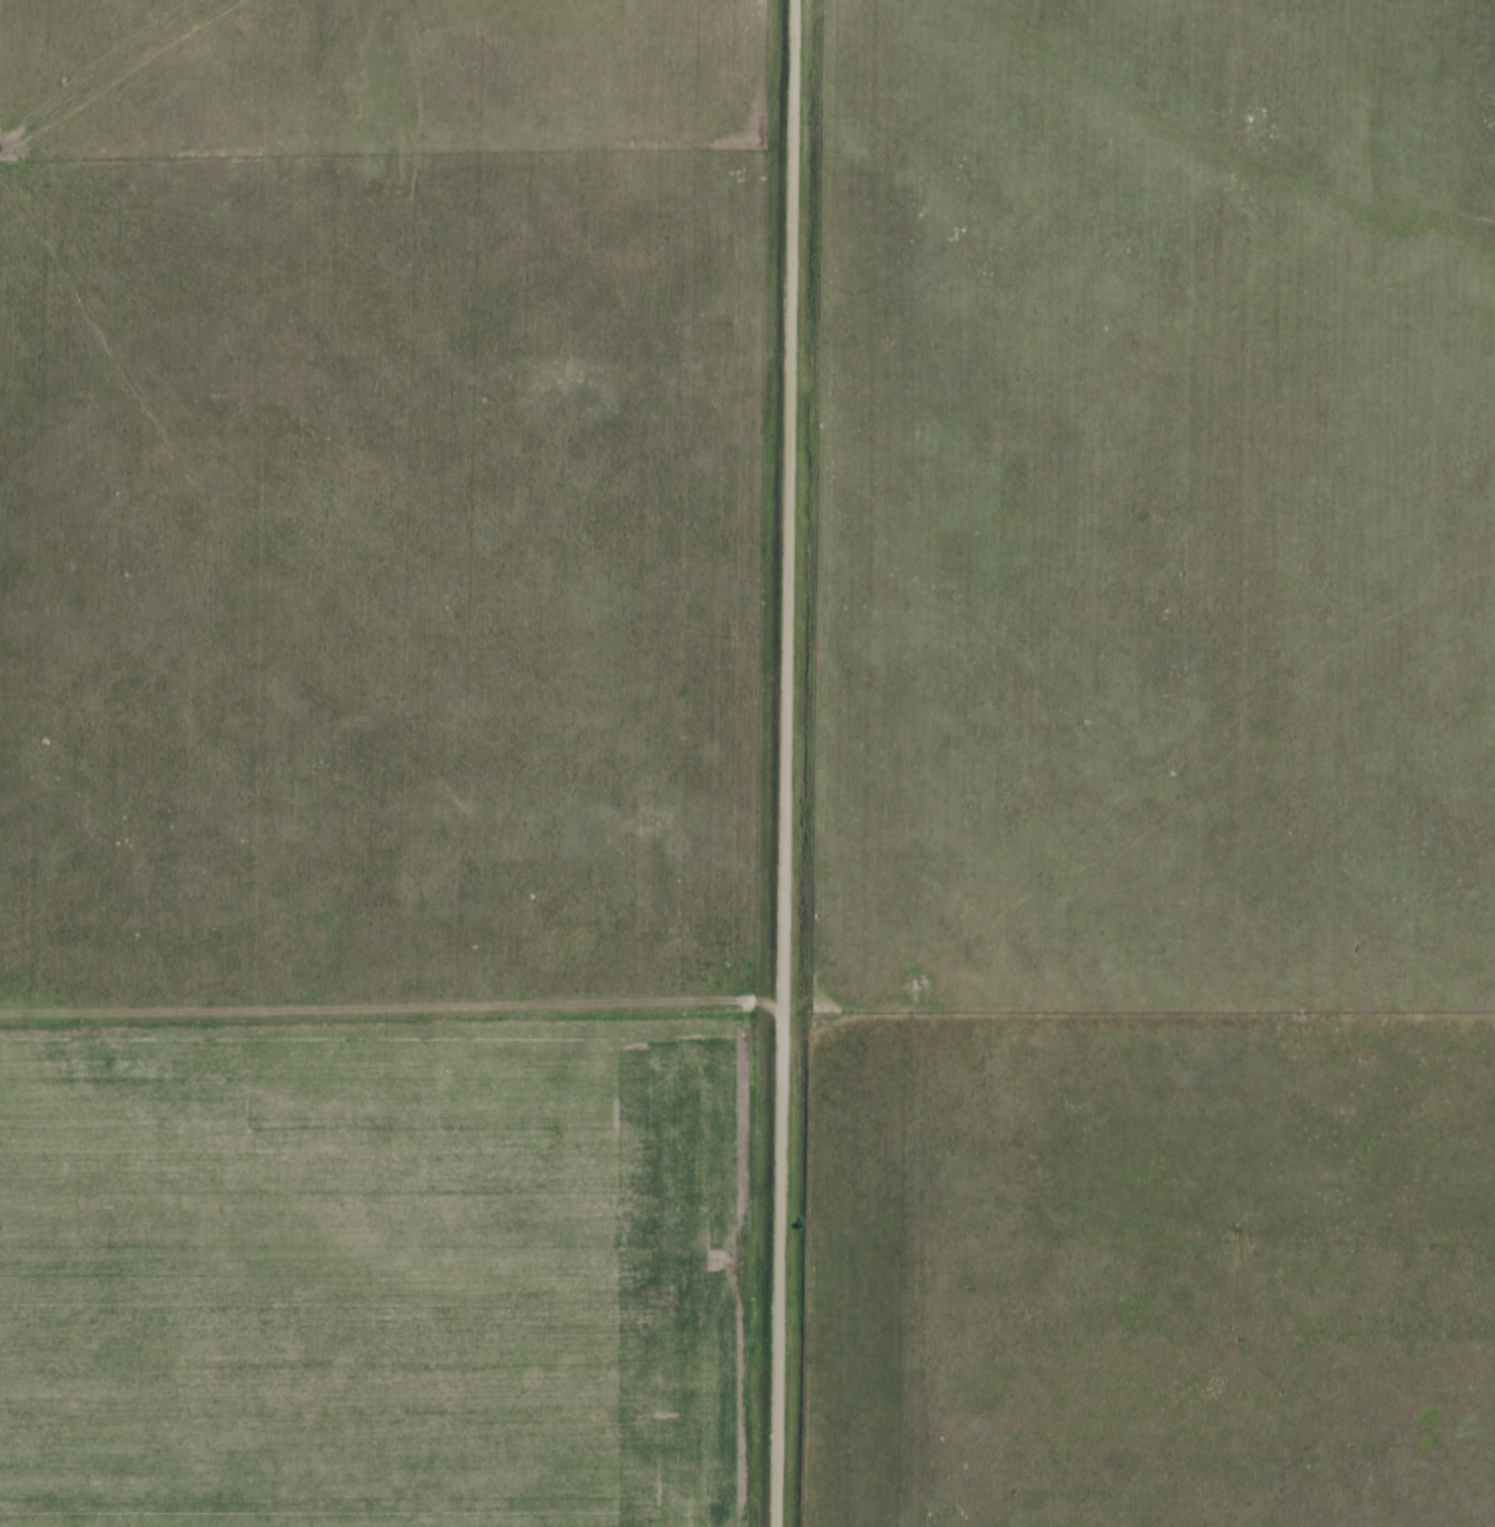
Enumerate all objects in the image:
road: (785, 763)

